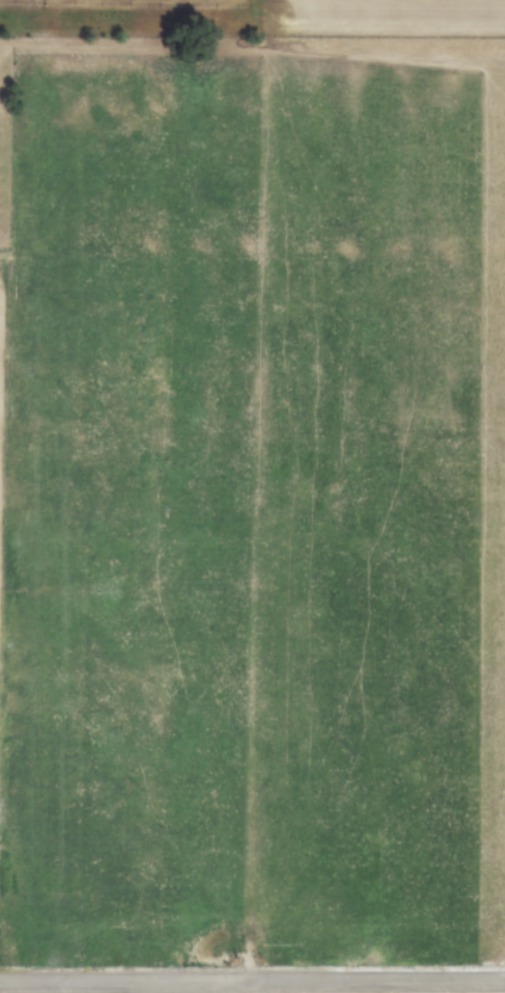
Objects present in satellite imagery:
road: (252, 985)

